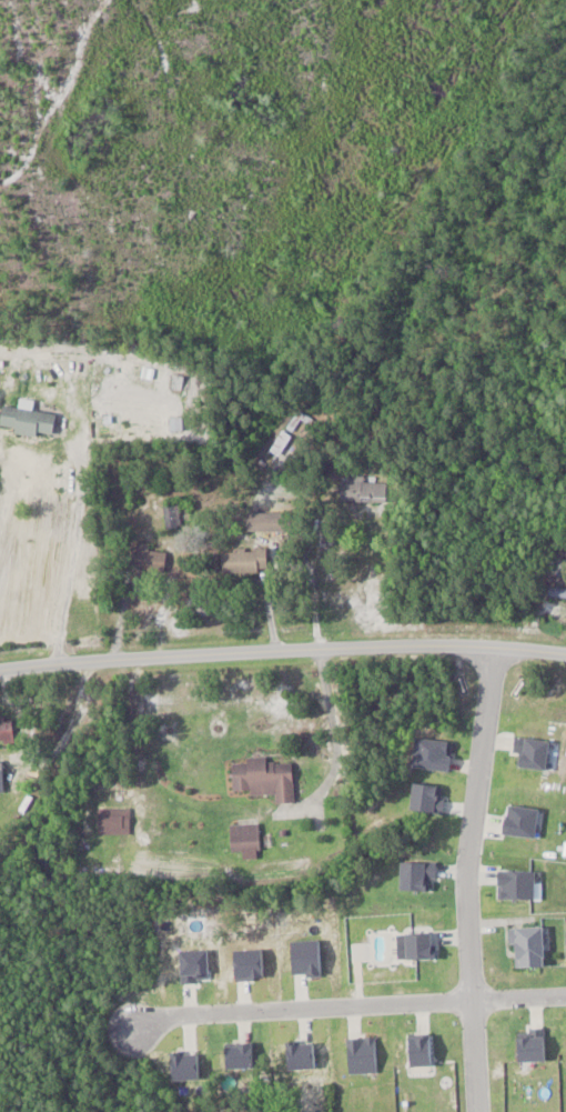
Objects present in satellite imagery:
building: (29, 420)
building: (282, 442)
road: (4, 477)
building: (364, 489)
road: (78, 498)
building: (172, 515)
building: (271, 521)
building: (150, 558)
building: (245, 560)
building: (557, 592)
road: (121, 609)
road: (282, 653)
building: (6, 730)
road: (335, 745)
building: (266, 778)
building: (246, 840)
road: (473, 883)
building: (529, 946)
road: (520, 998)
road: (304, 1009)

